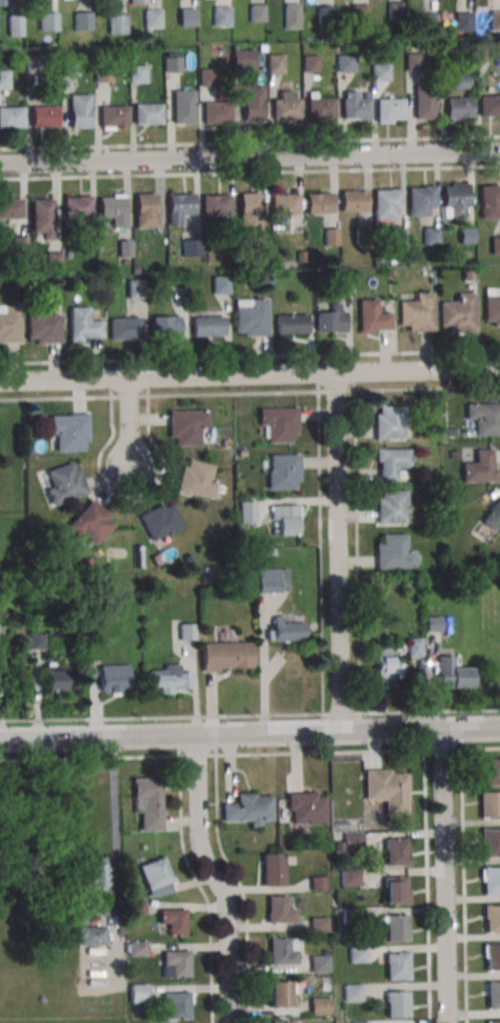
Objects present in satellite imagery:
building: (38, 1)
building: (136, 1)
building: (2, 2)
building: (394, 10)
building: (256, 13)
building: (359, 13)
building: (324, 14)
building: (221, 15)
building: (290, 15)
building: (187, 16)
building: (152, 18)
building: (494, 19)
building: (49, 21)
building: (82, 21)
building: (428, 21)
building: (463, 21)
building: (14, 24)
building: (116, 24)
building: (340, 46)
building: (481, 52)
building: (153, 56)
building: (242, 59)
building: (413, 62)
building: (309, 63)
building: (344, 63)
building: (33, 64)
building: (171, 64)
building: (274, 64)
building: (69, 67)
building: (380, 72)
building: (136, 73)
building: (103, 74)
building: (206, 77)
building: (4, 79)
building: (460, 81)
building: (424, 101)
building: (252, 103)
building: (489, 104)
building: (285, 105)
building: (353, 105)
building: (182, 106)
building: (458, 107)
building: (319, 108)
building: (389, 109)
building: (79, 111)
building: (216, 112)
building: (146, 113)
building: (44, 116)
building: (113, 116)
building: (11, 117)
road: (250, 142)
road: (250, 156)
road: (250, 172)
building: (353, 200)
building: (420, 200)
building: (455, 201)
building: (490, 201)
building: (318, 202)
building: (385, 203)
building: (215, 204)
building: (283, 204)
building: (77, 206)
building: (178, 206)
building: (11, 208)
building: (113, 210)
building: (145, 210)
building: (249, 211)
building: (42, 218)
building: (362, 235)
building: (398, 235)
building: (432, 235)
building: (330, 236)
building: (467, 236)
building: (496, 244)
building: (18, 245)
building: (190, 248)
building: (124, 249)
building: (67, 255)
building: (300, 256)
building: (206, 258)
building: (53, 260)
building: (124, 260)
building: (468, 275)
building: (433, 281)
building: (344, 283)
building: (220, 284)
building: (135, 288)
building: (492, 305)
building: (418, 312)
building: (459, 313)
building: (250, 317)
building: (373, 317)
building: (331, 318)
building: (10, 323)
building: (293, 323)
building: (43, 324)
building: (83, 324)
building: (165, 325)
building: (207, 325)
building: (124, 328)
road: (250, 358)
road: (249, 377)
road: (249, 393)
building: (433, 409)
building: (484, 417)
building: (390, 422)
road: (127, 423)
building: (278, 423)
building: (185, 426)
building: (68, 432)
building: (451, 432)
building: (225, 443)
building: (240, 453)
building: (453, 455)
building: (390, 462)
building: (480, 466)
building: (283, 471)
building: (196, 478)
building: (424, 478)
building: (63, 482)
road: (130, 497)
building: (392, 505)
building: (247, 512)
building: (493, 512)
building: (286, 518)
building: (159, 520)
building: (90, 523)
road: (356, 551)
building: (393, 551)
road: (319, 552)
road: (335, 553)
building: (86, 562)
building: (471, 568)
building: (270, 580)
building: (434, 623)
building: (285, 630)
building: (186, 631)
building: (35, 641)
building: (415, 647)
building: (225, 656)
building: (387, 664)
building: (452, 674)
building: (57, 678)
building: (114, 678)
building: (166, 679)
road: (249, 714)
road: (249, 734)
road: (249, 754)
building: (489, 771)
building: (386, 790)
building: (147, 801)
building: (489, 804)
building: (305, 807)
building: (248, 809)
building: (353, 840)
building: (490, 843)
building: (396, 852)
building: (272, 869)
building: (154, 873)
building: (93, 874)
road: (444, 876)
road: (214, 878)
building: (350, 878)
building: (491, 880)
building: (316, 884)
road: (239, 886)
road: (426, 886)
road: (462, 886)
road: (199, 888)
building: (395, 889)
building: (136, 907)
road: (81, 910)
building: (278, 910)
building: (349, 916)
building: (491, 919)
building: (172, 920)
building: (317, 925)
building: (395, 928)
building: (89, 929)
building: (136, 948)
building: (282, 950)
building: (324, 954)
building: (357, 954)
building: (491, 957)
building: (175, 963)
building: (318, 965)
building: (396, 966)
building: (138, 993)
building: (351, 993)
building: (279, 995)
building: (493, 996)
building: (397, 1004)
building: (174, 1005)
building: (319, 1007)
building: (493, 1021)
building: (280, 1022)
building: (359, 1022)

